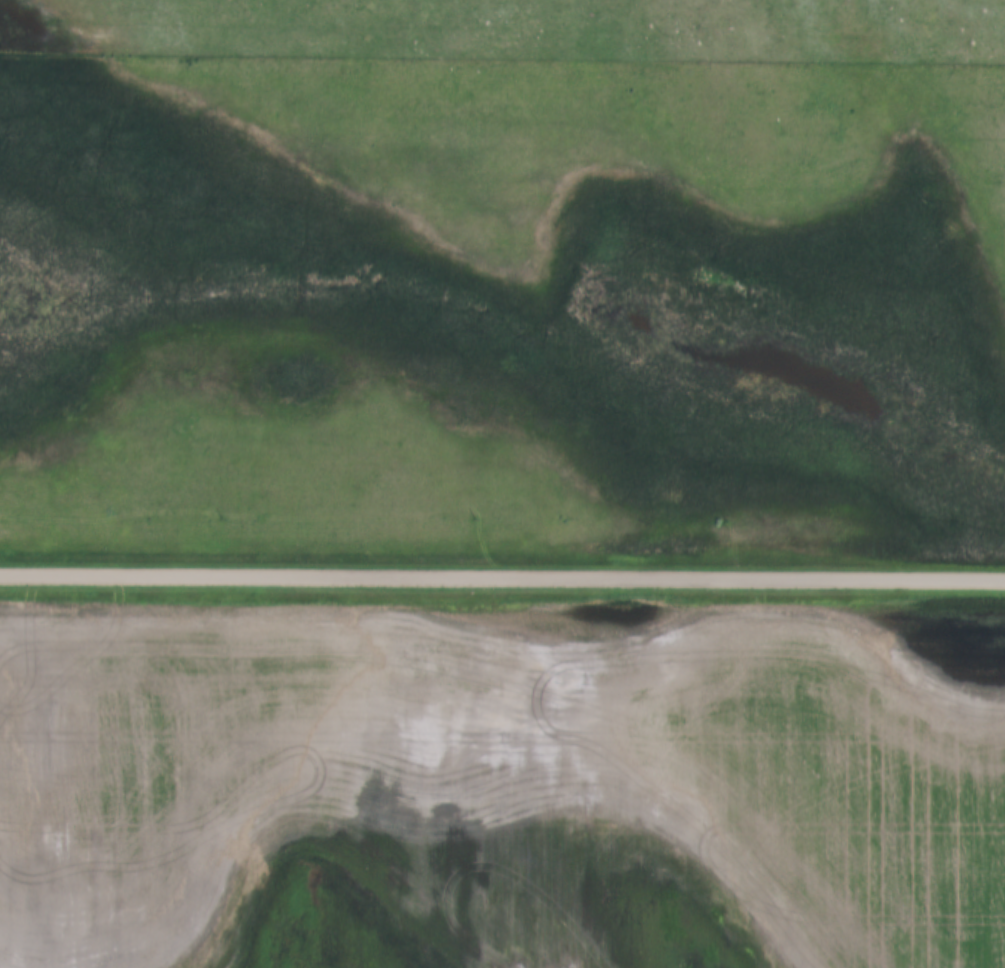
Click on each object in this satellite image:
road: (502, 582)

